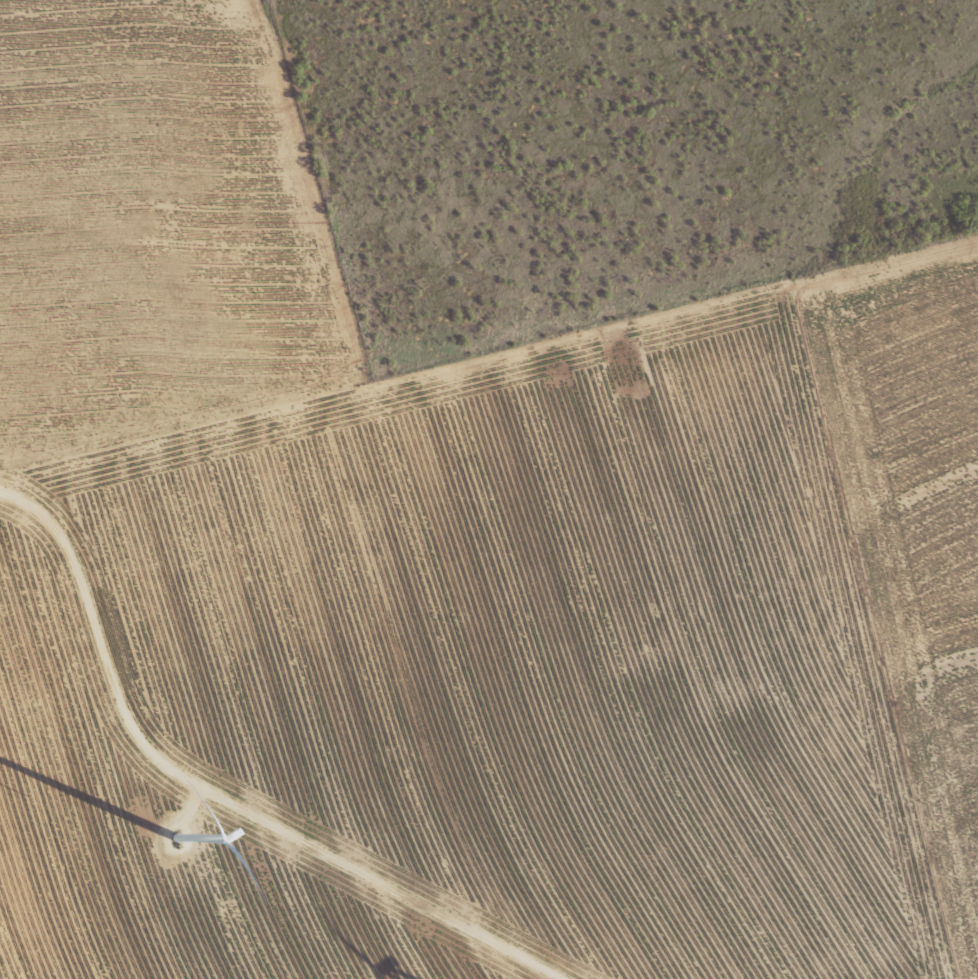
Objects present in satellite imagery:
wind turbine: (168, 817)

